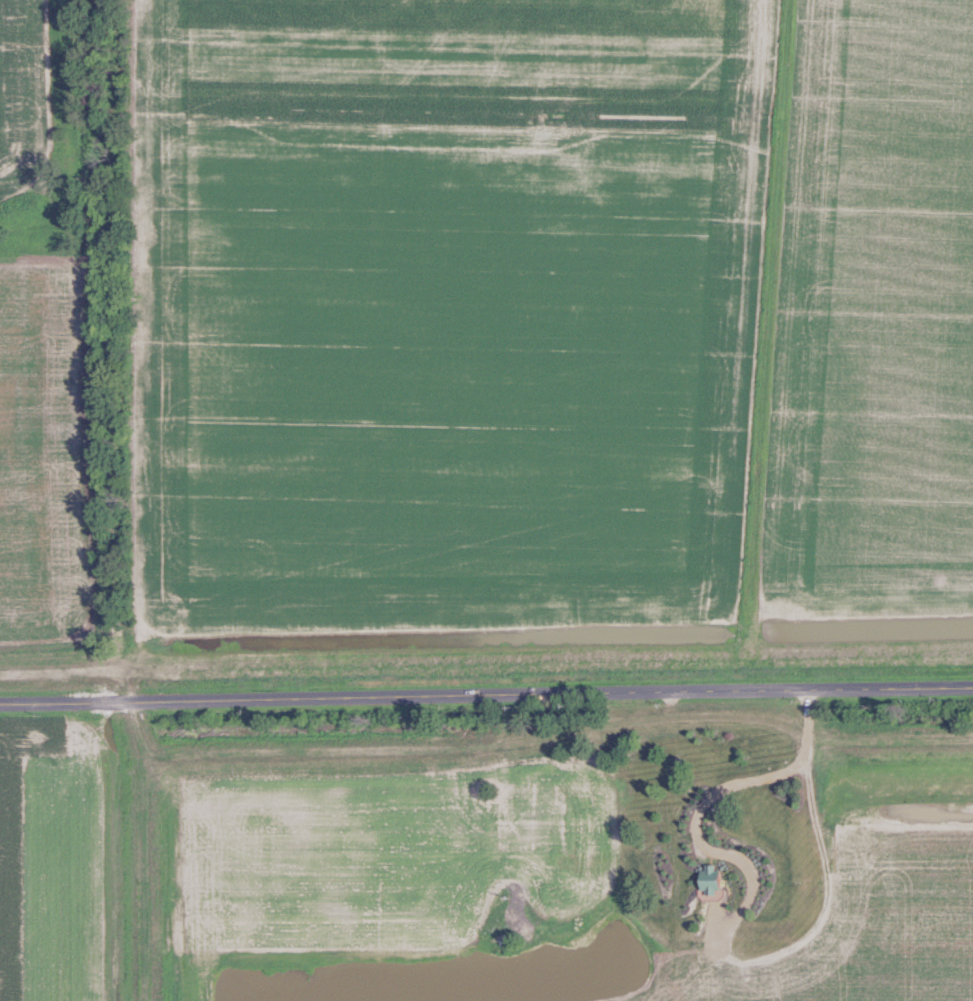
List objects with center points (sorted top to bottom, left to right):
road: (486, 693)
road: (707, 798)

